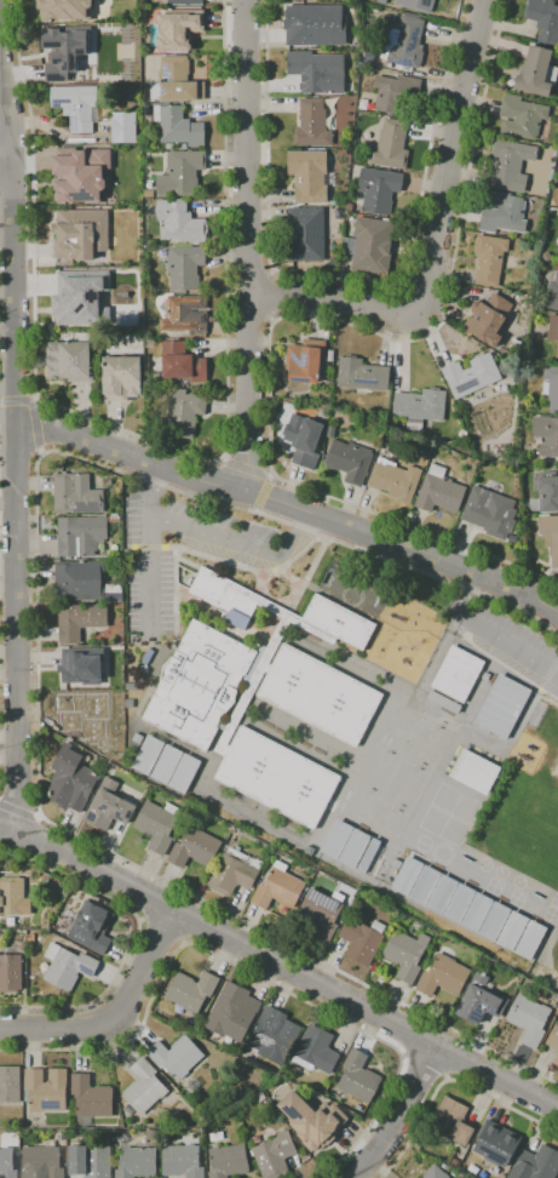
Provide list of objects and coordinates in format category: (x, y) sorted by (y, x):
building: (290, 0)
building: (184, 2)
building: (418, 5)
building: (64, 11)
building: (543, 19)
building: (313, 25)
building: (178, 29)
building: (408, 41)
building: (58, 45)
building: (317, 72)
building: (536, 73)
building: (176, 81)
building: (395, 92)
building: (75, 105)
building: (522, 118)
building: (312, 124)
building: (178, 126)
building: (123, 127)
road: (16, 130)
building: (391, 145)
road: (2, 155)
building: (511, 164)
building: (180, 173)
building: (307, 176)
road: (16, 177)
building: (65, 181)
building: (378, 189)
building: (504, 213)
building: (179, 222)
building: (80, 234)
building: (305, 235)
road: (435, 238)
building: (557, 241)
road: (247, 245)
building: (372, 246)
building: (489, 258)
building: (185, 267)
road: (344, 281)
building: (552, 293)
road: (272, 296)
building: (75, 301)
building: (185, 314)
road: (295, 318)
building: (488, 319)
building: (553, 328)
building: (557, 351)
building: (71, 358)
building: (305, 361)
building: (182, 364)
building: (361, 374)
building: (472, 374)
building: (121, 378)
building: (551, 387)
building: (277, 393)
road: (33, 399)
road: (15, 400)
building: (420, 406)
building: (183, 413)
road: (34, 424)
building: (546, 435)
building: (303, 440)
road: (156, 441)
road: (39, 451)
road: (222, 459)
building: (349, 461)
road: (159, 467)
road: (13, 469)
road: (246, 469)
road: (270, 476)
building: (395, 481)
building: (439, 491)
building: (546, 492)
building: (76, 494)
road: (260, 494)
building: (490, 513)
building: (115, 519)
building: (81, 536)
building: (550, 536)
road: (213, 537)
road: (433, 557)
parking lot: (254, 560)
road: (148, 571)
park: (326, 577)
building: (359, 578)
building: (80, 581)
park: (323, 583)
flagpole: (280, 587)
building: (113, 591)
building: (224, 594)
road: (553, 607)
building: (80, 621)
building: (339, 622)
road: (454, 625)
road: (491, 633)
parking lot: (508, 642)
road: (35, 650)
road: (439, 650)
building: (148, 656)
building: (265, 664)
building: (144, 669)
road: (507, 669)
building: (76, 671)
road: (547, 673)
building: (458, 674)
building: (199, 684)
road: (535, 692)
building: (320, 694)
road: (546, 700)
building: (442, 702)
building: (502, 707)
building: (84, 716)
park: (427, 748)
building: (148, 754)
building: (166, 765)
park: (376, 772)
building: (474, 772)
building: (184, 774)
building: (277, 777)
building: (70, 779)
park: (407, 789)
building: (109, 806)
road: (17, 812)
park: (548, 813)
road: (36, 818)
park: (390, 822)
building: (156, 825)
building: (336, 840)
building: (195, 848)
building: (355, 848)
building: (368, 856)
building: (255, 863)
building: (232, 873)
building: (407, 876)
building: (425, 886)
building: (278, 888)
building: (57, 892)
building: (442, 894)
building: (11, 896)
building: (460, 903)
building: (322, 913)
building: (477, 913)
building: (495, 921)
building: (45, 925)
building: (91, 928)
road: (161, 931)
building: (512, 931)
road: (134, 936)
building: (30, 938)
building: (362, 940)
building: (530, 940)
building: (405, 954)
road: (541, 959)
building: (68, 966)
road: (278, 966)
building: (10, 973)
road: (253, 973)
building: (443, 977)
building: (191, 990)
building: (481, 1001)
building: (232, 1007)
road: (114, 1016)
building: (529, 1019)
building: (275, 1034)
building: (553, 1042)
building: (316, 1050)
building: (176, 1057)
road: (425, 1063)
building: (315, 1075)
building: (358, 1077)
road: (448, 1080)
building: (309, 1083)
building: (10, 1085)
building: (143, 1087)
building: (45, 1091)
building: (90, 1099)
building: (128, 1109)
road: (396, 1116)
building: (317, 1119)
building: (451, 1121)
building: (490, 1150)
building: (275, 1154)
building: (303, 1156)
building: (91, 1161)
building: (182, 1161)
building: (228, 1161)
building: (8, 1162)
building: (41, 1162)
building: (137, 1162)
building: (454, 1162)
building: (536, 1163)
building: (435, 1173)

